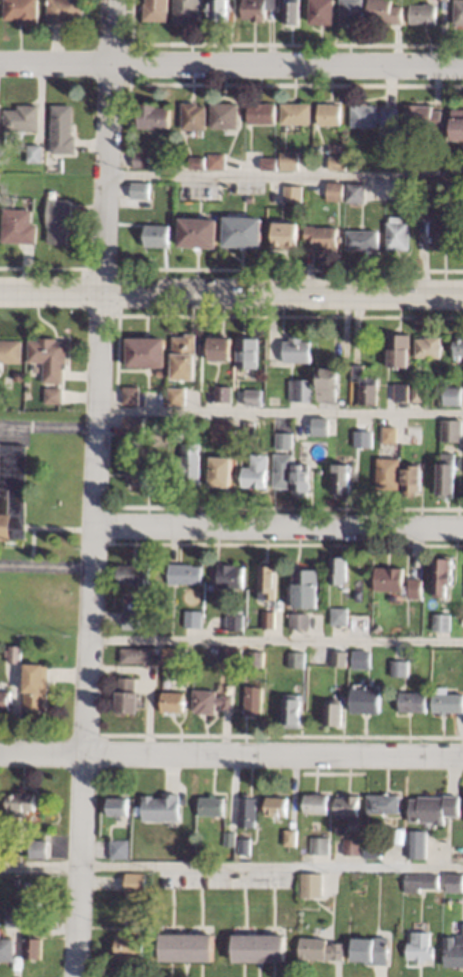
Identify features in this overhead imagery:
building: (219, 9)
building: (258, 9)
building: (22, 10)
building: (65, 10)
building: (187, 10)
building: (157, 11)
building: (292, 11)
building: (323, 11)
building: (352, 12)
building: (386, 12)
building: (459, 12)
building: (424, 13)
road: (231, 64)
building: (263, 113)
building: (296, 114)
building: (331, 114)
building: (194, 115)
building: (225, 115)
building: (373, 115)
building: (155, 116)
building: (424, 116)
building: (0, 118)
building: (23, 118)
building: (457, 123)
building: (63, 129)
building: (35, 153)
building: (141, 159)
building: (198, 161)
building: (217, 161)
building: (338, 162)
building: (269, 163)
building: (289, 163)
building: (354, 165)
road: (283, 176)
building: (141, 190)
building: (335, 190)
building: (356, 191)
building: (407, 192)
building: (293, 196)
building: (251, 198)
building: (428, 208)
building: (60, 219)
building: (20, 226)
building: (199, 232)
building: (244, 232)
building: (399, 233)
building: (286, 234)
building: (158, 235)
building: (446, 235)
building: (323, 237)
building: (363, 239)
road: (231, 291)
building: (428, 345)
building: (458, 346)
building: (220, 348)
building: (298, 349)
building: (12, 350)
building: (400, 350)
building: (147, 351)
building: (248, 352)
building: (185, 356)
building: (51, 357)
building: (161, 371)
building: (22, 376)
building: (328, 384)
building: (365, 385)
building: (303, 390)
building: (399, 392)
building: (417, 393)
building: (55, 394)
building: (131, 394)
building: (224, 394)
building: (177, 395)
building: (452, 395)
building: (254, 397)
building: (344, 399)
building: (274, 400)
road: (279, 412)
building: (134, 426)
building: (318, 426)
road: (47, 428)
building: (249, 429)
building: (452, 429)
building: (223, 432)
building: (177, 433)
building: (413, 434)
building: (370, 435)
building: (390, 435)
building: (285, 441)
building: (298, 444)
building: (191, 469)
building: (222, 470)
building: (283, 470)
building: (256, 471)
building: (388, 472)
building: (146, 474)
building: (447, 474)
building: (413, 478)
building: (302, 479)
building: (343, 479)
road: (92, 488)
building: (11, 490)
road: (277, 527)
road: (44, 568)
building: (339, 570)
building: (185, 573)
building: (135, 575)
building: (231, 575)
building: (443, 575)
building: (268, 581)
building: (397, 581)
building: (306, 588)
building: (339, 615)
building: (193, 618)
building: (131, 619)
building: (270, 619)
building: (301, 620)
building: (441, 621)
building: (236, 622)
building: (377, 627)
road: (275, 640)
building: (440, 651)
building: (171, 653)
building: (14, 654)
building: (140, 654)
building: (233, 656)
building: (339, 657)
building: (257, 658)
building: (297, 658)
building: (358, 659)
building: (400, 667)
building: (220, 670)
building: (36, 687)
building: (128, 696)
building: (6, 700)
building: (366, 700)
building: (447, 700)
building: (209, 701)
building: (253, 701)
building: (172, 702)
building: (413, 702)
building: (293, 710)
building: (334, 713)
road: (231, 753)
building: (19, 802)
building: (316, 803)
building: (347, 803)
building: (383, 804)
building: (119, 805)
building: (213, 805)
building: (275, 806)
building: (435, 806)
building: (162, 807)
building: (247, 811)
building: (401, 834)
building: (290, 837)
building: (231, 838)
building: (320, 843)
building: (417, 843)
building: (354, 845)
building: (245, 846)
building: (39, 847)
building: (119, 848)
building: (373, 849)
road: (231, 866)
building: (137, 881)
building: (420, 881)
building: (455, 882)
building: (312, 883)
building: (28, 885)
building: (144, 912)
building: (14, 917)
building: (461, 931)
building: (421, 945)
building: (130, 946)
building: (187, 946)
building: (259, 947)
building: (34, 948)
building: (321, 948)
building: (7, 949)
building: (373, 950)
building: (454, 950)

